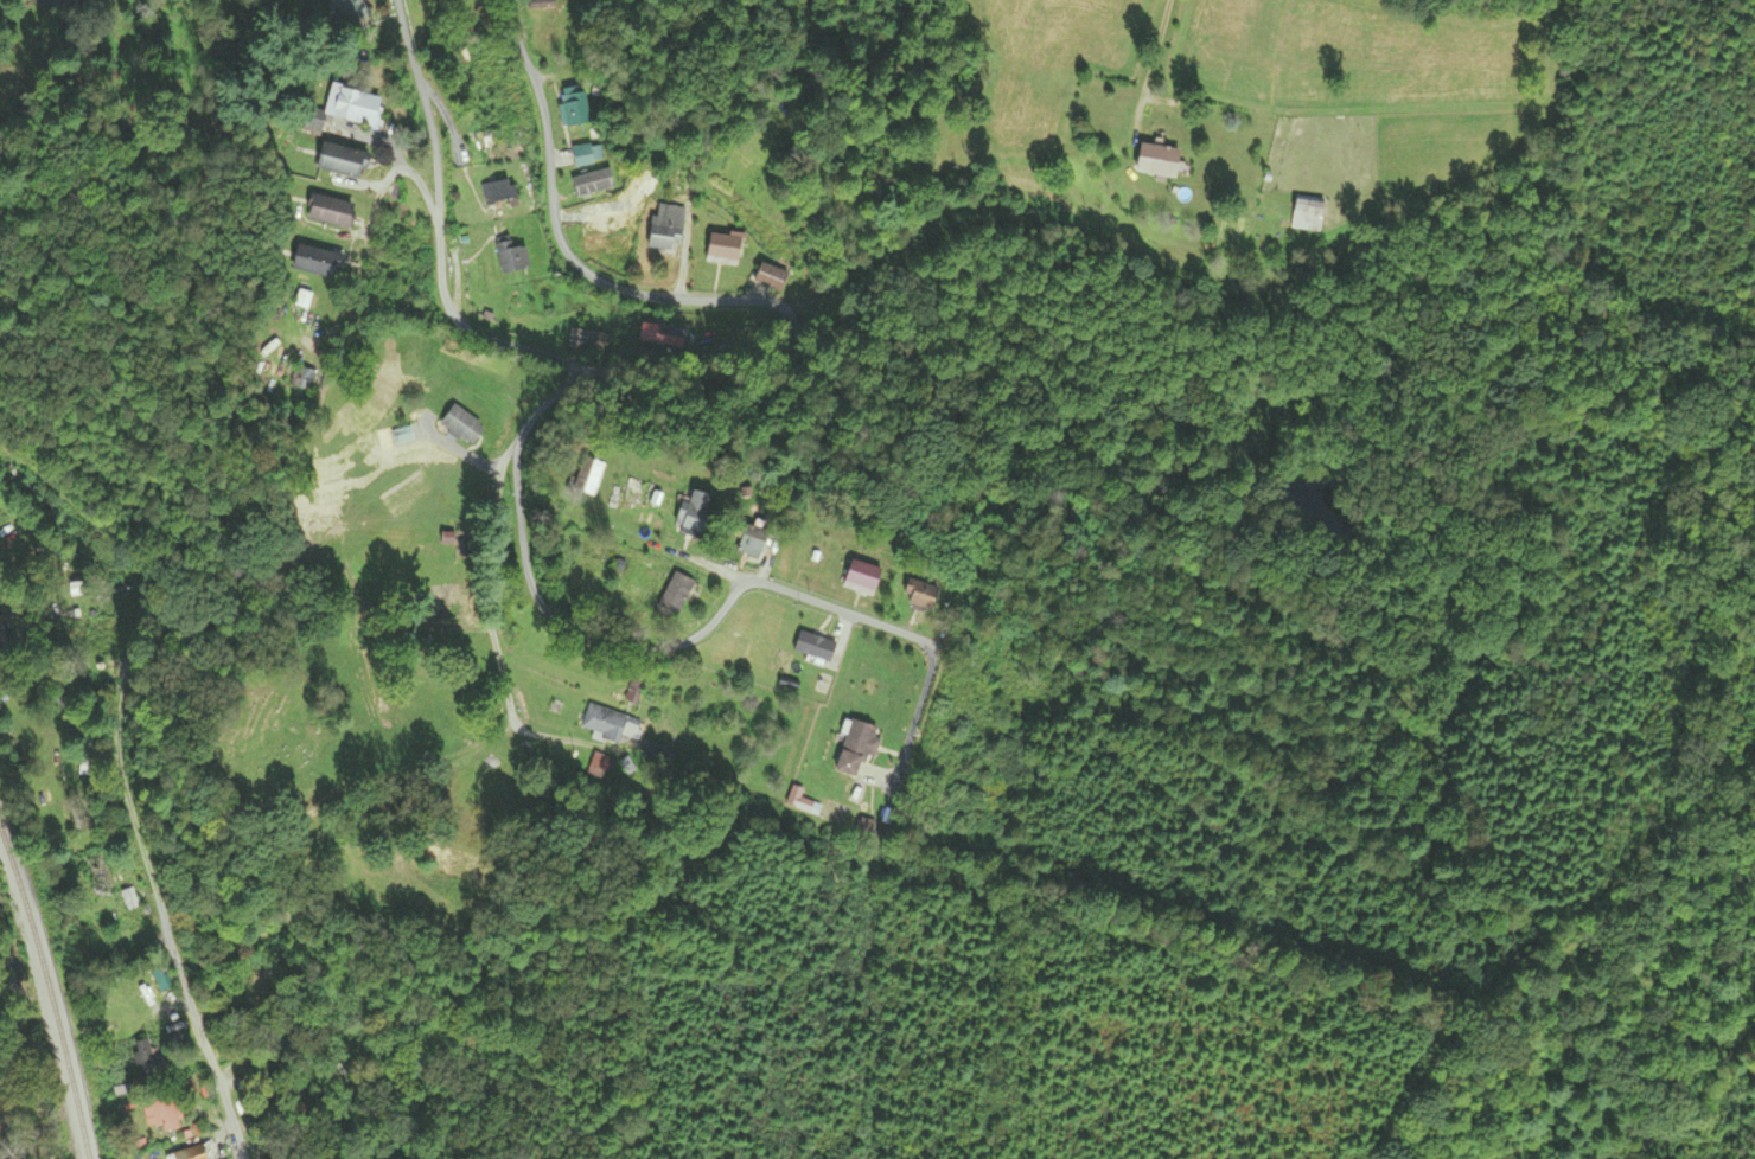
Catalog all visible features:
building: (573, 107)
building: (344, 110)
road: (792, 141)
road: (395, 143)
building: (585, 154)
building: (338, 161)
building: (1156, 161)
building: (498, 193)
building: (328, 212)
building: (1307, 213)
building: (665, 228)
building: (608, 229)
road: (368, 231)
road: (562, 237)
road: (687, 238)
building: (723, 249)
building: (510, 255)
building: (313, 262)
building: (771, 277)
road: (477, 329)
building: (663, 337)
building: (587, 342)
building: (306, 380)
building: (461, 425)
road: (515, 448)
road: (18, 476)
building: (588, 478)
building: (694, 514)
building: (746, 542)
building: (861, 578)
building: (675, 595)
building: (920, 595)
road: (816, 602)
road: (569, 628)
building: (4, 638)
building: (815, 647)
building: (611, 725)
road: (915, 737)
building: (857, 745)
road: (130, 802)
building: (98, 872)
river: (9, 965)
railway: (52, 992)
building: (149, 1005)
building: (148, 1057)
building: (161, 1116)
building: (217, 1147)

